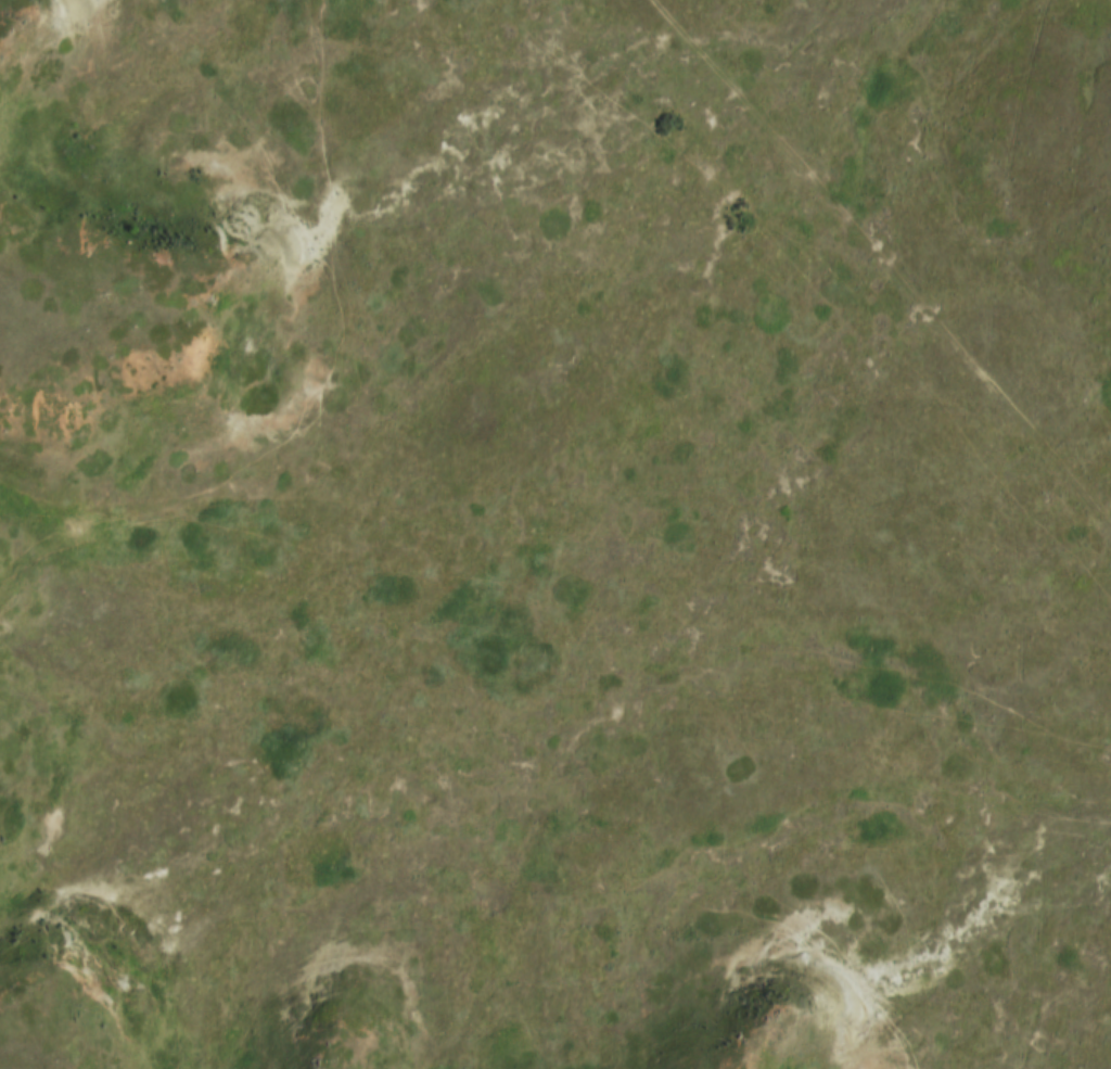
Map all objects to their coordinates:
road: (883, 262)

